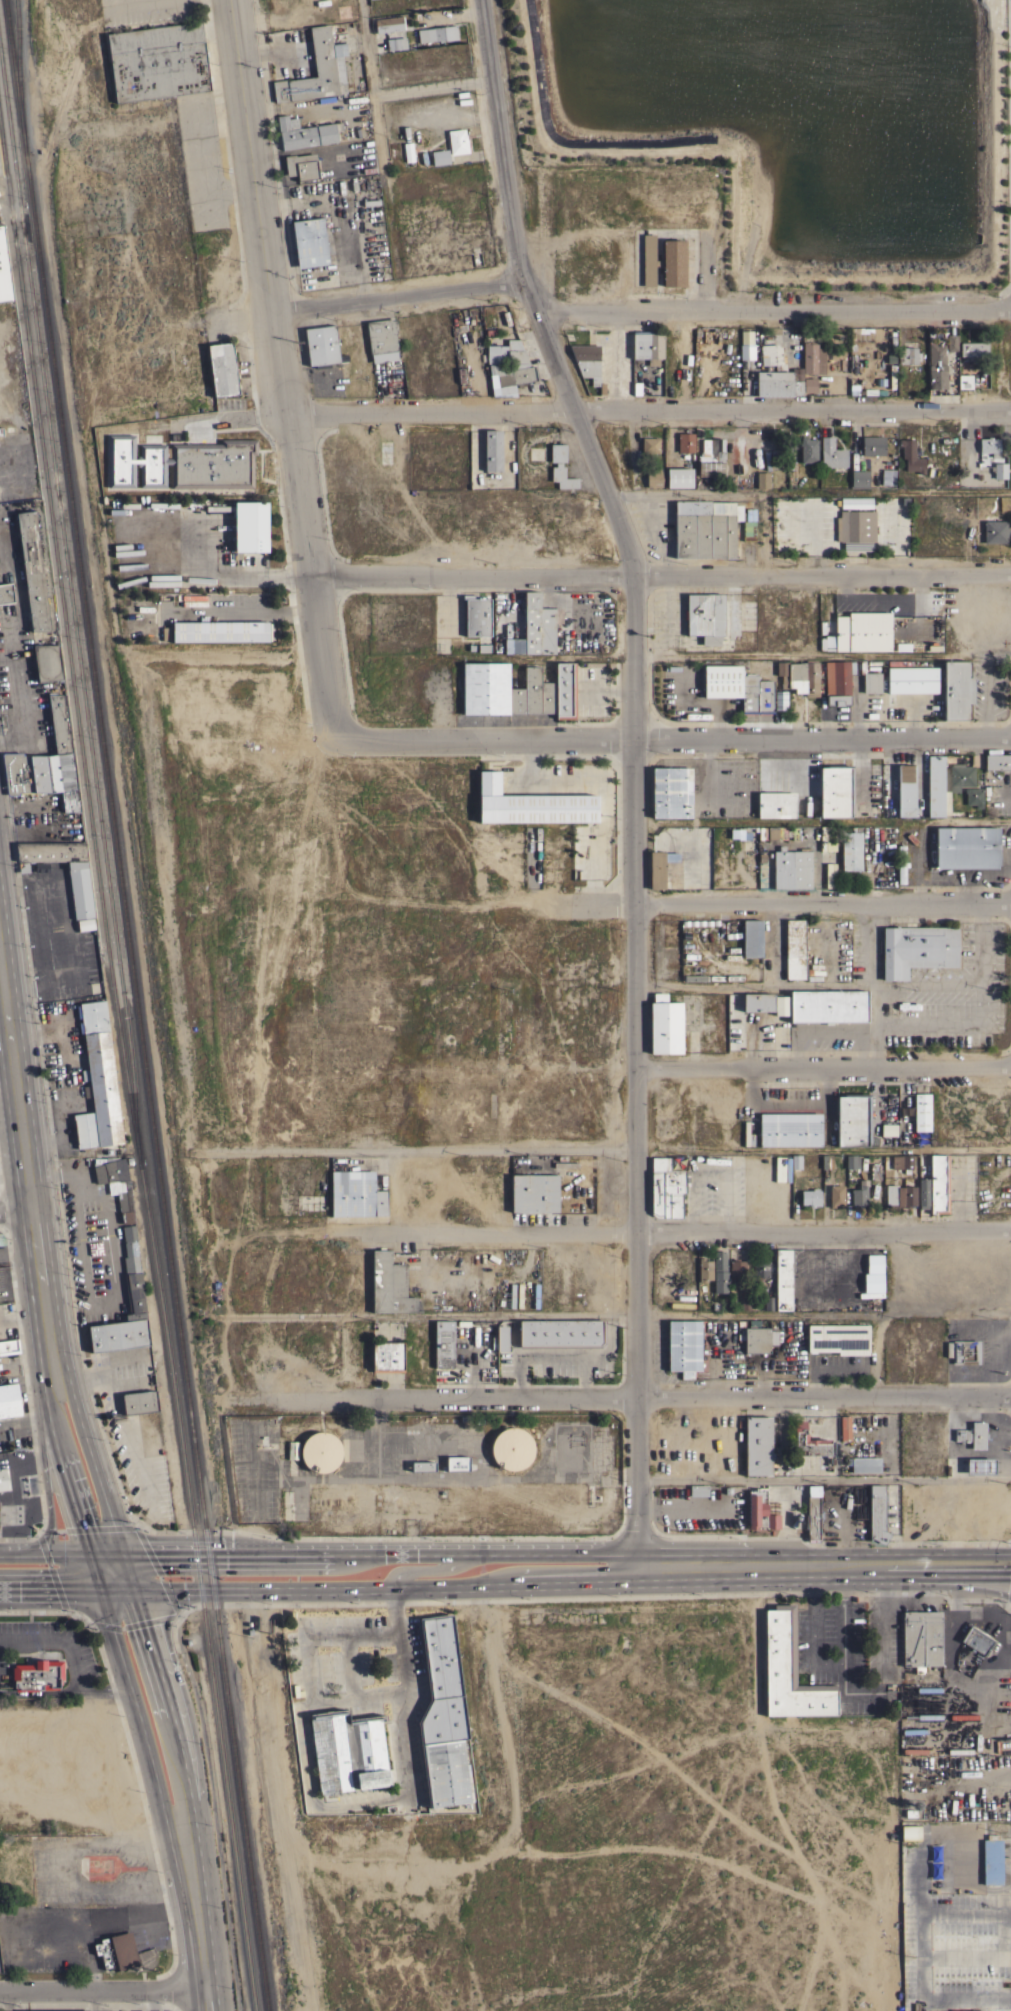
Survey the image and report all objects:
building: (388, 24)
building: (437, 33)
building: (396, 43)
building: (158, 61)
building: (318, 70)
railway: (18, 77)
road: (371, 83)
road: (433, 85)
building: (305, 133)
building: (457, 141)
building: (408, 151)
building: (440, 157)
railway: (1, 165)
building: (301, 166)
building: (309, 242)
building: (648, 260)
building: (673, 262)
building: (4, 271)
road: (393, 295)
road: (772, 309)
building: (487, 323)
building: (382, 340)
building: (951, 342)
building: (321, 344)
building: (973, 348)
building: (746, 349)
building: (508, 352)
building: (649, 352)
building: (936, 354)
building: (908, 355)
building: (771, 356)
building: (812, 358)
building: (586, 359)
building: (223, 369)
road: (281, 370)
building: (511, 373)
building: (891, 375)
building: (937, 379)
building: (964, 381)
building: (779, 382)
building: (809, 385)
building: (864, 390)
road: (650, 410)
road: (234, 419)
building: (1, 431)
building: (685, 442)
building: (650, 444)
building: (872, 445)
building: (989, 445)
building: (492, 450)
building: (808, 450)
building: (557, 452)
building: (832, 454)
building: (911, 456)
building: (711, 457)
building: (771, 460)
building: (179, 461)
building: (999, 470)
building: (887, 476)
building: (562, 477)
building: (675, 477)
building: (654, 478)
building: (859, 478)
building: (763, 480)
road: (808, 492)
building: (748, 524)
building: (250, 526)
building: (856, 526)
building: (730, 527)
building: (699, 528)
building: (995, 531)
building: (32, 571)
road: (661, 575)
building: (6, 592)
road: (244, 611)
railway: (71, 612)
building: (477, 616)
building: (704, 616)
building: (221, 631)
building: (862, 631)
building: (514, 645)
railway: (67, 646)
road: (681, 652)
building: (47, 662)
building: (899, 662)
building: (782, 673)
building: (793, 676)
building: (808, 678)
building: (721, 680)
building: (870, 680)
building: (912, 680)
building: (837, 682)
building: (485, 688)
building: (532, 689)
building: (565, 690)
building: (957, 690)
building: (748, 692)
building: (764, 696)
building: (547, 697)
building: (516, 700)
building: (779, 700)
road: (676, 737)
building: (997, 762)
building: (46, 763)
road: (633, 769)
building: (960, 776)
building: (935, 785)
building: (835, 790)
building: (906, 790)
building: (671, 792)
building: (973, 797)
building: (530, 804)
building: (775, 804)
road: (822, 819)
building: (766, 832)
building: (785, 832)
building: (736, 833)
building: (827, 838)
building: (966, 847)
building: (851, 850)
building: (51, 851)
building: (901, 863)
building: (41, 867)
building: (658, 867)
building: (791, 868)
building: (830, 875)
building: (80, 889)
road: (414, 897)
road: (773, 903)
building: (687, 922)
building: (703, 922)
building: (85, 924)
building: (751, 938)
road: (980, 942)
building: (794, 948)
building: (917, 949)
building: (694, 977)
road: (808, 984)
building: (968, 1001)
building: (765, 1003)
railway: (136, 1005)
railway: (137, 1005)
railway: (147, 1005)
building: (827, 1005)
building: (665, 1025)
road: (824, 1065)
road: (498, 1068)
building: (97, 1080)
building: (921, 1111)
building: (854, 1120)
building: (789, 1129)
building: (886, 1129)
road: (600, 1148)
road: (26, 1160)
building: (795, 1161)
building: (826, 1161)
building: (848, 1161)
building: (854, 1161)
building: (899, 1163)
building: (114, 1179)
building: (938, 1183)
building: (666, 1188)
building: (533, 1192)
building: (923, 1192)
building: (859, 1193)
building: (356, 1194)
building: (836, 1194)
building: (899, 1196)
building: (810, 1197)
road: (16, 1211)
building: (127, 1216)
road: (690, 1231)
building: (129, 1239)
building: (703, 1270)
building: (735, 1270)
building: (759, 1270)
building: (132, 1272)
building: (719, 1272)
building: (782, 1279)
building: (389, 1284)
building: (744, 1303)
building: (768, 1303)
building: (135, 1304)
road: (22, 1313)
road: (621, 1316)
building: (740, 1330)
building: (561, 1333)
building: (118, 1335)
building: (501, 1337)
building: (838, 1338)
building: (756, 1339)
building: (493, 1342)
building: (443, 1343)
road: (607, 1345)
building: (9, 1346)
building: (683, 1346)
building: (965, 1351)
building: (387, 1357)
road: (554, 1358)
road: (84, 1374)
road: (618, 1399)
building: (9, 1400)
building: (139, 1402)
building: (843, 1427)
building: (972, 1435)
building: (809, 1442)
building: (758, 1445)
building: (510, 1447)
building: (292, 1449)
building: (320, 1452)
road: (90, 1460)
road: (59, 1463)
building: (862, 1463)
building: (457, 1464)
building: (980, 1465)
road: (43, 1466)
building: (422, 1466)
building: (4, 1479)
road: (824, 1479)
building: (25, 1485)
building: (698, 1490)
building: (752, 1509)
building: (877, 1512)
building: (765, 1513)
building: (813, 1518)
traffic signals: (79, 1526)
road: (136, 1528)
road: (58, 1551)
road: (104, 1551)
road: (379, 1551)
road: (15, 1552)
traffic signals: (151, 1552)
road: (427, 1568)
road: (93, 1570)
road: (126, 1571)
road: (823, 1571)
railway: (198, 1587)
road: (387, 1589)
road: (49, 1590)
traffic signals: (53, 1590)
road: (115, 1590)
traffic signals: (143, 1626)
building: (921, 1639)
building: (976, 1640)
building: (440, 1655)
road: (832, 1662)
building: (789, 1671)
building: (37, 1675)
road: (168, 1706)
building: (932, 1708)
road: (134, 1709)
road: (128, 1746)
building: (444, 1750)
building: (348, 1751)
road: (330, 1806)
road: (213, 1811)
building: (910, 1832)
building: (991, 1860)
road: (967, 1906)
road: (194, 1916)
building: (117, 1951)
road: (985, 1953)
road: (925, 1963)
road: (101, 1989)
road: (95, 2000)
building: (56, 2010)
building: (961, 2010)

